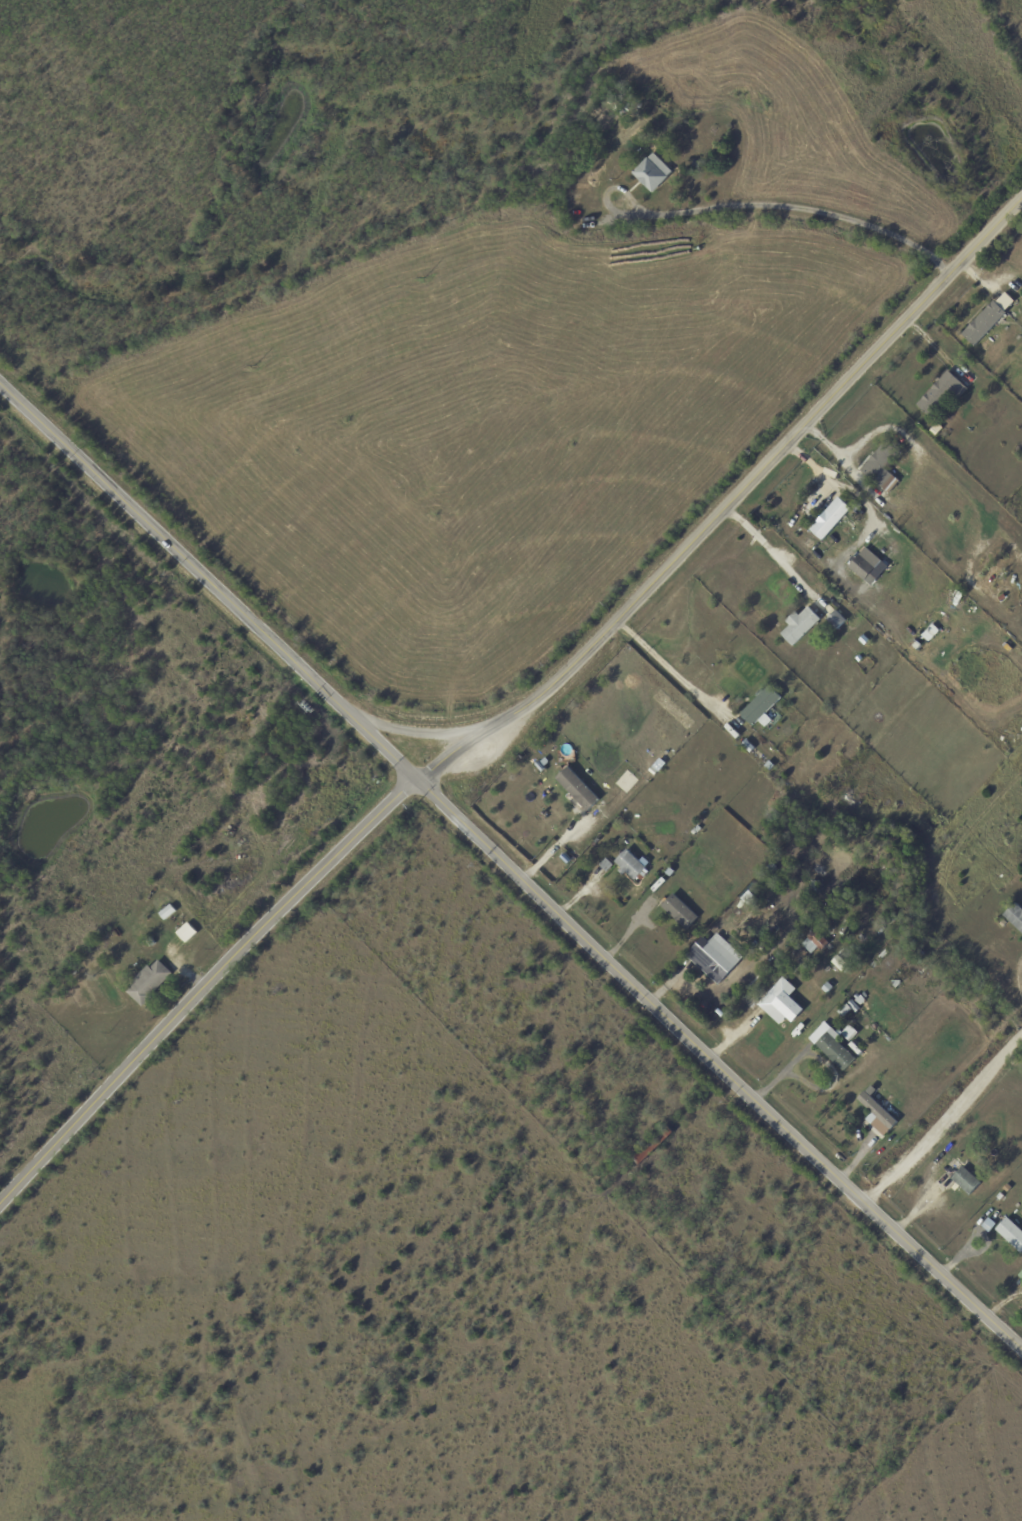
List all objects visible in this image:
building: (605, 117)
building: (642, 124)
building: (697, 165)
building: (655, 172)
road: (804, 210)
building: (1021, 295)
building: (988, 319)
building: (943, 393)
building: (937, 429)
road: (840, 454)
building: (881, 461)
building: (891, 487)
road: (730, 503)
building: (836, 515)
road: (769, 549)
building: (862, 567)
building: (994, 575)
road: (208, 584)
building: (955, 597)
building: (946, 612)
building: (837, 620)
building: (801, 626)
building: (932, 632)
building: (865, 640)
building: (917, 645)
building: (860, 659)
road: (666, 668)
building: (761, 706)
road: (416, 733)
building: (749, 747)
building: (267, 759)
building: (542, 767)
building: (578, 788)
building: (631, 822)
building: (598, 841)
building: (593, 858)
building: (630, 864)
building: (607, 865)
building: (670, 872)
building: (779, 881)
building: (813, 889)
building: (763, 900)
building: (160, 905)
building: (680, 911)
building: (168, 912)
building: (1015, 915)
building: (839, 931)
building: (188, 932)
building: (819, 939)
building: (766, 941)
building: (150, 942)
building: (713, 959)
building: (840, 963)
building: (148, 982)
building: (896, 984)
road: (203, 987)
building: (829, 987)
building: (860, 999)
building: (865, 1005)
building: (788, 1006)
building: (855, 1006)
building: (845, 1010)
building: (875, 1027)
building: (851, 1033)
building: (836, 1049)
road: (719, 1065)
building: (879, 1114)
road: (944, 1119)
building: (653, 1146)
building: (981, 1163)
building: (963, 1178)
building: (1001, 1196)
building: (1011, 1233)
building: (1021, 1275)

